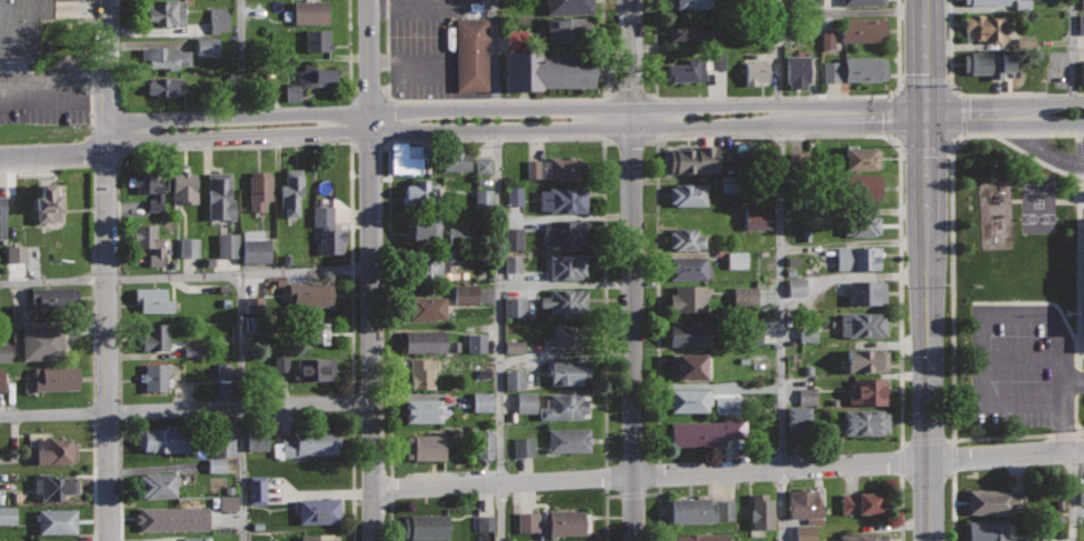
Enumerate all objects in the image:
building: (809, 1)
building: (864, 1)
building: (986, 1)
building: (692, 3)
building: (1083, 4)
building: (571, 7)
parking lot: (70, 9)
road: (70, 9)
building: (311, 11)
building: (167, 12)
building: (218, 20)
building: (1081, 23)
building: (20, 26)
building: (986, 28)
building: (864, 29)
building: (574, 30)
building: (693, 32)
road: (115, 34)
building: (318, 39)
building: (827, 40)
building: (207, 46)
road: (349, 50)
building: (473, 53)
building: (166, 57)
road: (1073, 57)
building: (717, 61)
building: (989, 62)
road: (243, 63)
building: (547, 69)
building: (692, 69)
building: (856, 69)
building: (1083, 70)
building: (755, 72)
building: (797, 72)
building: (305, 78)
road: (52, 83)
building: (166, 86)
parking lot: (43, 93)
road: (972, 93)
road: (773, 97)
road: (496, 100)
road: (538, 120)
road: (767, 136)
road: (490, 139)
road: (230, 146)
building: (409, 157)
building: (859, 157)
building: (694, 159)
road: (1037, 159)
building: (458, 160)
building: (483, 166)
building: (557, 168)
building: (729, 184)
building: (149, 186)
building: (185, 186)
building: (859, 187)
building: (260, 188)
building: (421, 190)
building: (292, 191)
building: (689, 193)
building: (221, 196)
building: (514, 196)
building: (483, 198)
building: (564, 200)
building: (49, 204)
building: (2, 218)
building: (756, 219)
building: (859, 224)
building: (328, 228)
building: (421, 228)
building: (567, 231)
building: (459, 234)
building: (511, 238)
building: (687, 238)
building: (150, 242)
road: (91, 244)
building: (227, 246)
building: (188, 247)
building: (255, 248)
building: (16, 253)
building: (858, 257)
building: (736, 260)
building: (434, 263)
building: (511, 263)
building: (567, 266)
building: (689, 268)
road: (105, 270)
road: (370, 270)
road: (499, 270)
road: (634, 270)
road: (782, 270)
road: (927, 270)
road: (186, 277)
building: (277, 287)
building: (796, 287)
road: (951, 288)
building: (867, 291)
building: (307, 294)
building: (466, 294)
building: (745, 295)
building: (54, 297)
building: (153, 299)
building: (688, 299)
building: (566, 300)
building: (427, 307)
building: (514, 307)
building: (19, 313)
building: (863, 323)
building: (312, 331)
building: (689, 332)
building: (755, 333)
building: (807, 333)
building: (156, 334)
building: (569, 335)
building: (43, 341)
building: (425, 341)
building: (476, 343)
building: (514, 347)
building: (191, 351)
building: (4, 352)
building: (865, 359)
building: (280, 362)
building: (688, 365)
building: (316, 368)
building: (568, 370)
building: (420, 372)
building: (57, 377)
building: (156, 377)
building: (1, 379)
building: (223, 379)
building: (514, 380)
building: (867, 390)
building: (806, 395)
building: (690, 399)
building: (481, 401)
building: (526, 402)
building: (565, 405)
building: (727, 405)
road: (243, 408)
road: (186, 409)
building: (425, 410)
building: (866, 421)
building: (707, 431)
building: (165, 438)
building: (225, 438)
building: (569, 439)
building: (259, 440)
building: (307, 442)
building: (484, 443)
building: (425, 447)
building: (523, 447)
building: (56, 450)
building: (216, 465)
road: (727, 471)
road: (352, 474)
road: (92, 477)
road: (120, 477)
building: (57, 484)
building: (157, 484)
building: (256, 490)
building: (1081, 494)
road: (1073, 495)
building: (0, 497)
building: (996, 501)
building: (227, 502)
building: (862, 502)
building: (805, 504)
road: (954, 508)
building: (702, 509)
road: (899, 509)
building: (319, 510)
building: (762, 511)
road: (605, 514)
building: (7, 515)
road: (659, 515)
building: (175, 518)
road: (390, 518)
building: (58, 521)
building: (485, 522)
building: (527, 522)
building: (567, 522)
building: (426, 527)
building: (988, 530)
building: (320, 537)
building: (689, 537)
building: (863, 537)
building: (1033, 538)
building: (191, 539)
building: (528, 540)

